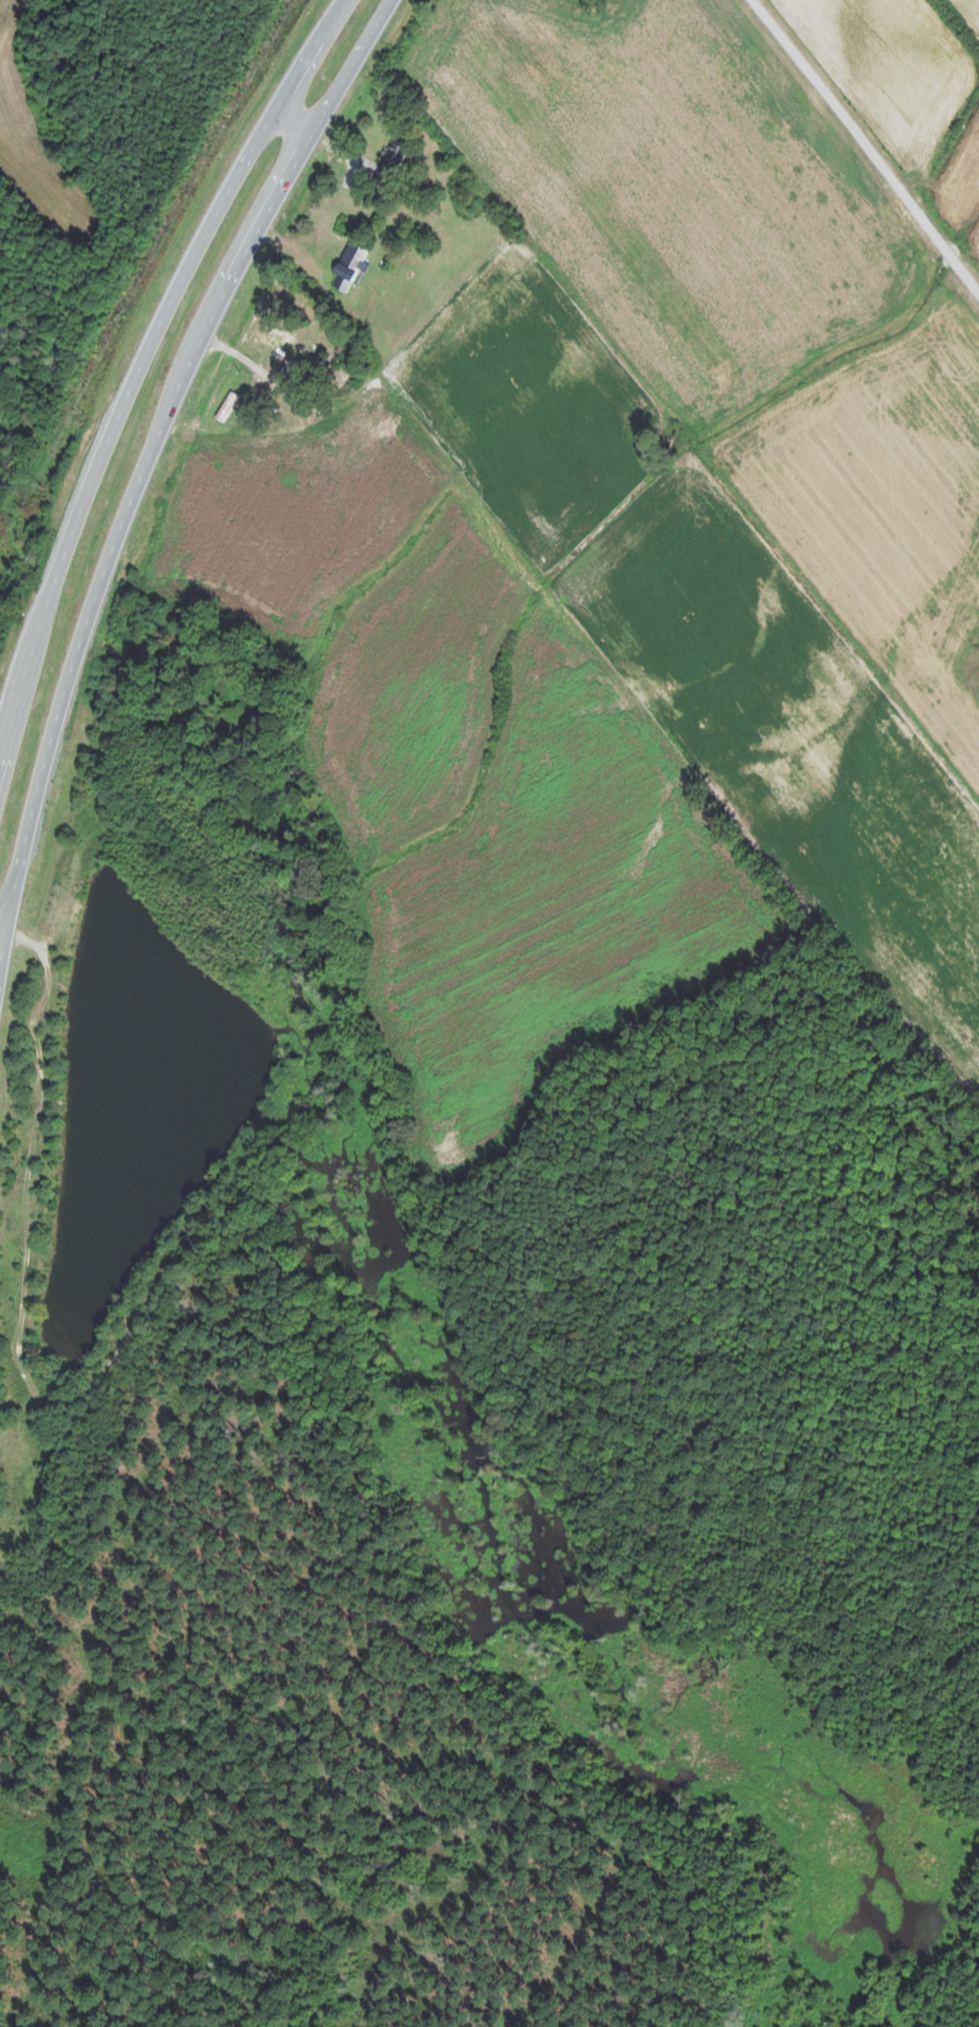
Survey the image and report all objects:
road: (338, 19)
road: (295, 119)
building: (394, 156)
building: (350, 267)
road: (59, 291)
building: (311, 355)
road: (131, 390)
building: (227, 406)
road: (154, 440)
road: (4, 919)
road: (4, 943)

